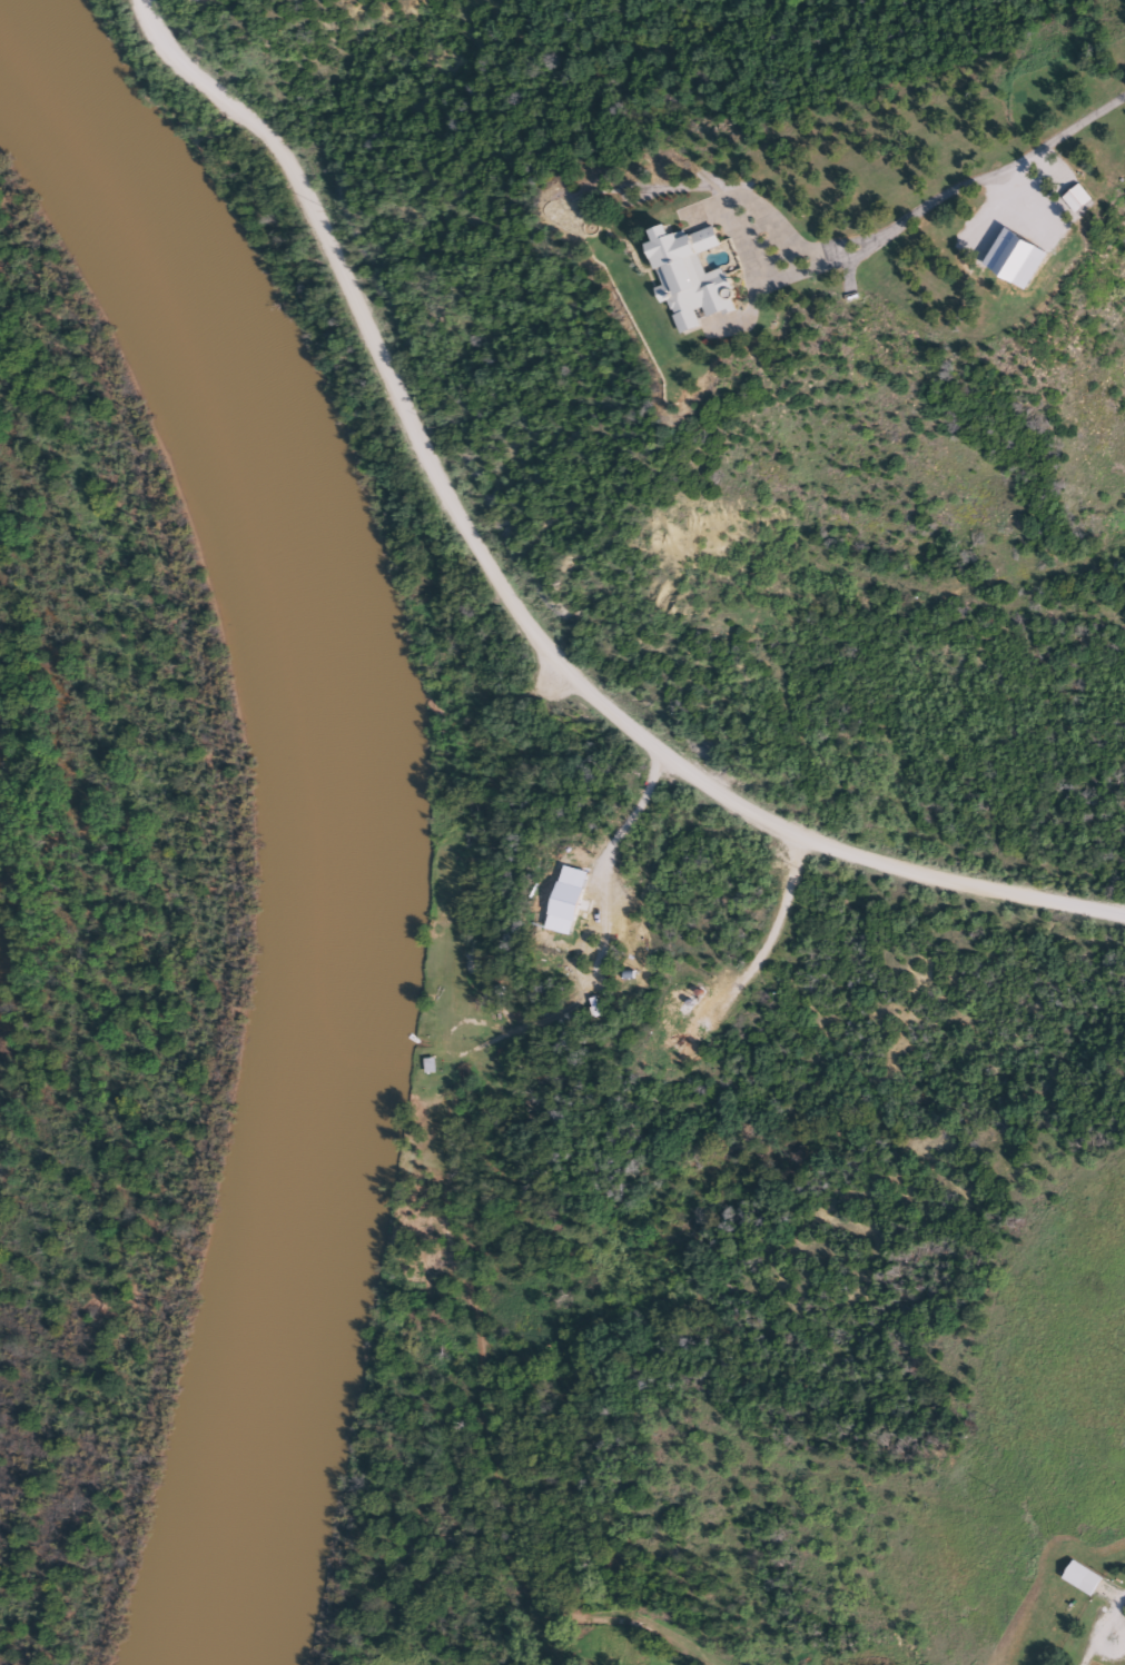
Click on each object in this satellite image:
road: (975, 184)
building: (685, 276)
road: (515, 597)
parking lot: (549, 695)
river: (333, 801)
building: (1078, 1577)

